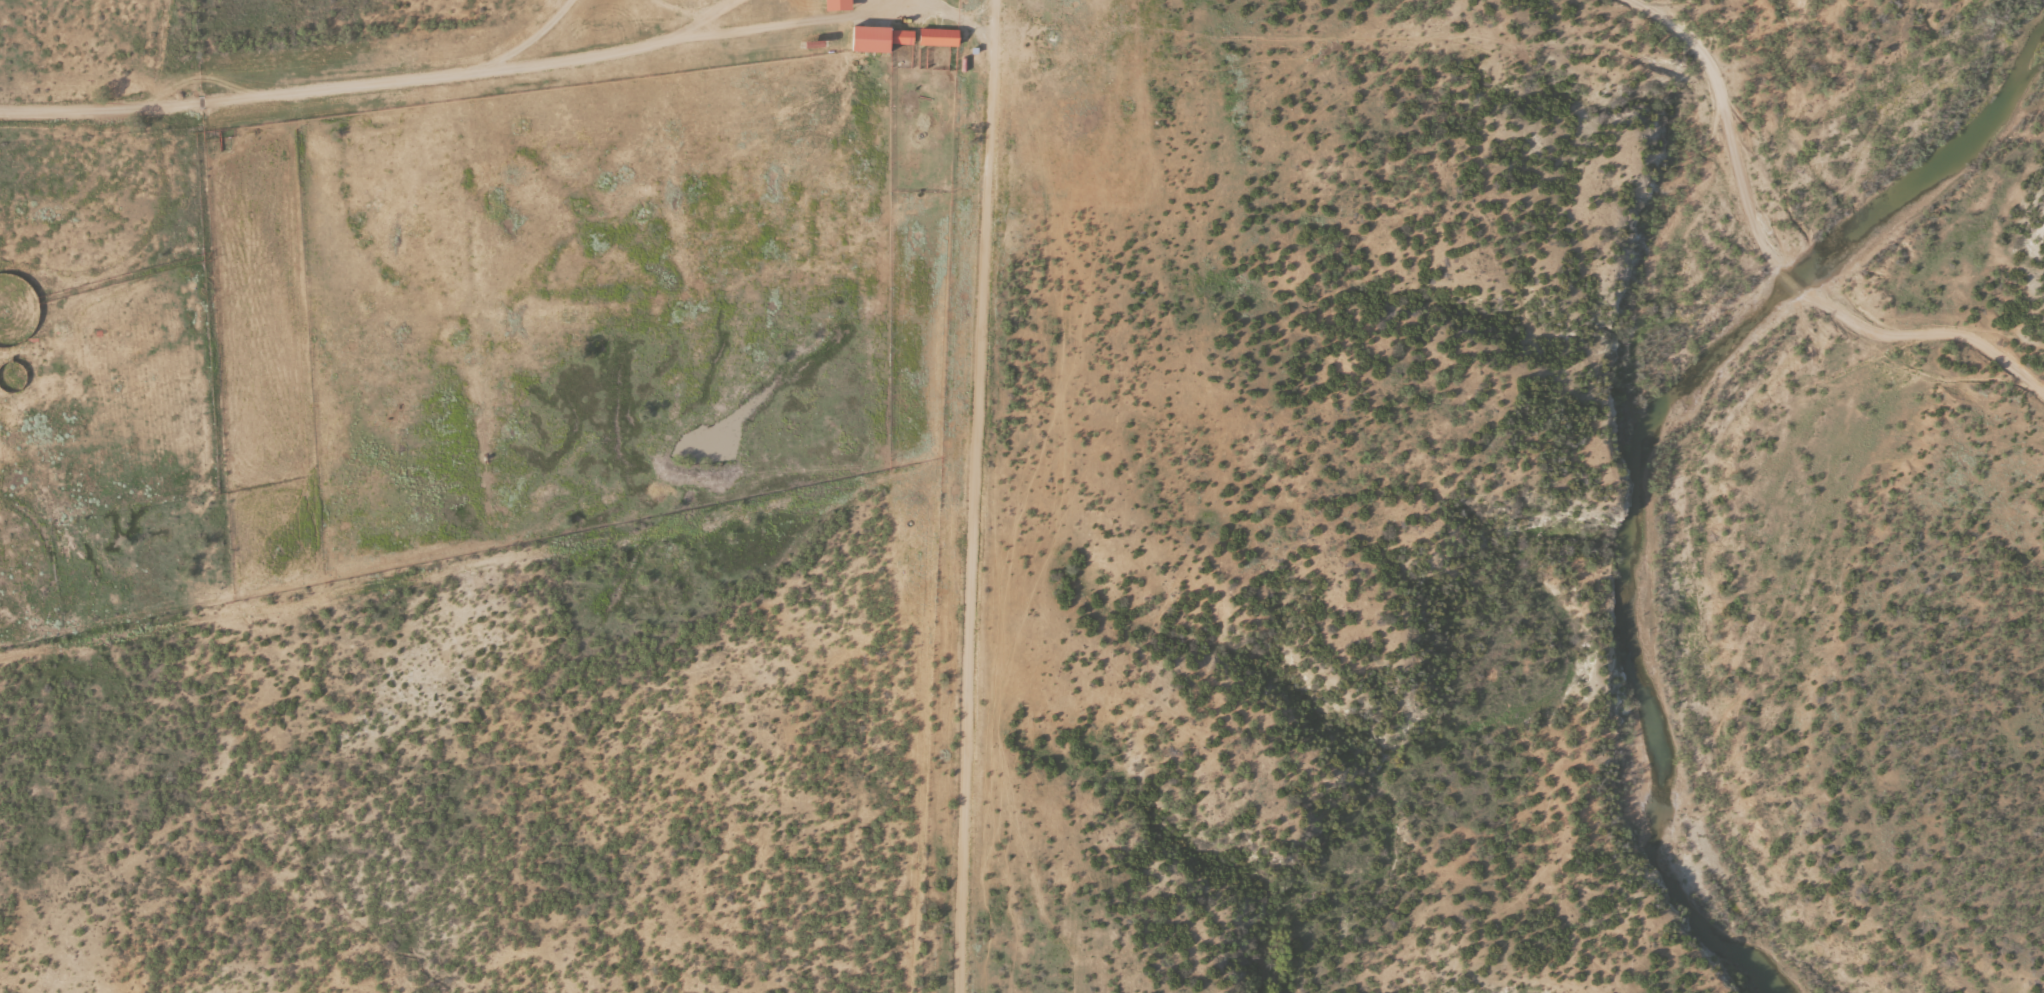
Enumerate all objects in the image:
building: (837, 5)
building: (903, 38)
building: (938, 38)
building: (870, 39)
road: (529, 65)
road: (149, 95)
road: (1722, 120)
road: (1791, 287)
road: (1924, 329)
river: (1644, 444)
road: (983, 492)

